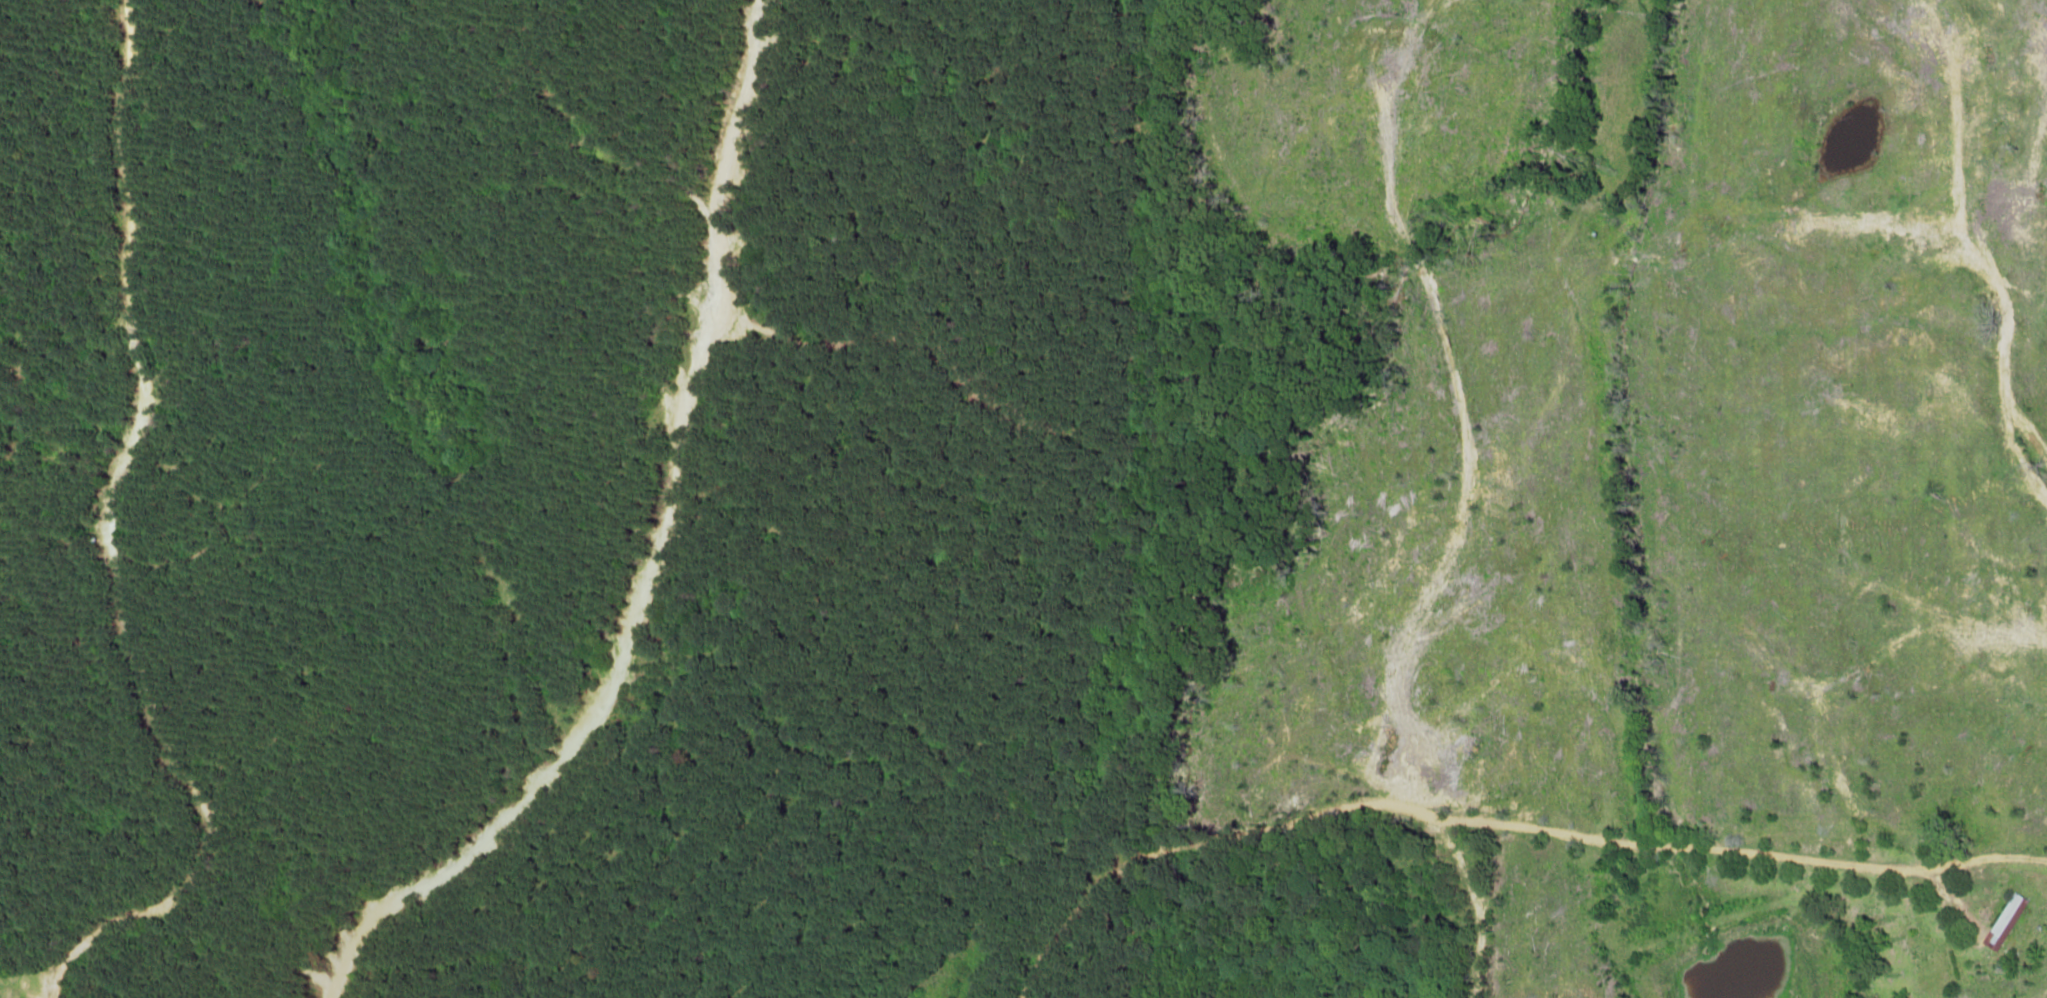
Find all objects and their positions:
building: (2007, 921)

